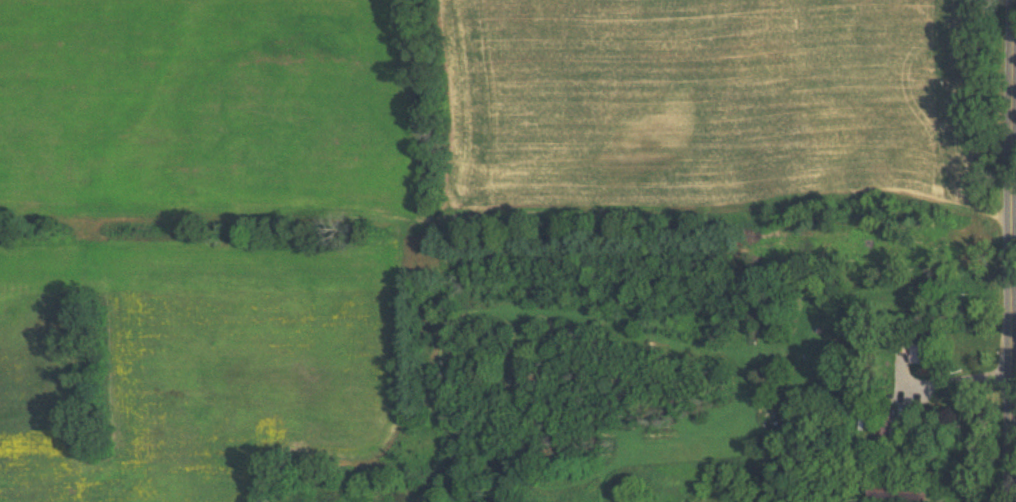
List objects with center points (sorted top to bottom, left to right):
road: (1015, 303)
road: (1015, 307)
building: (921, 350)
road: (957, 378)
building: (884, 427)
building: (899, 489)

